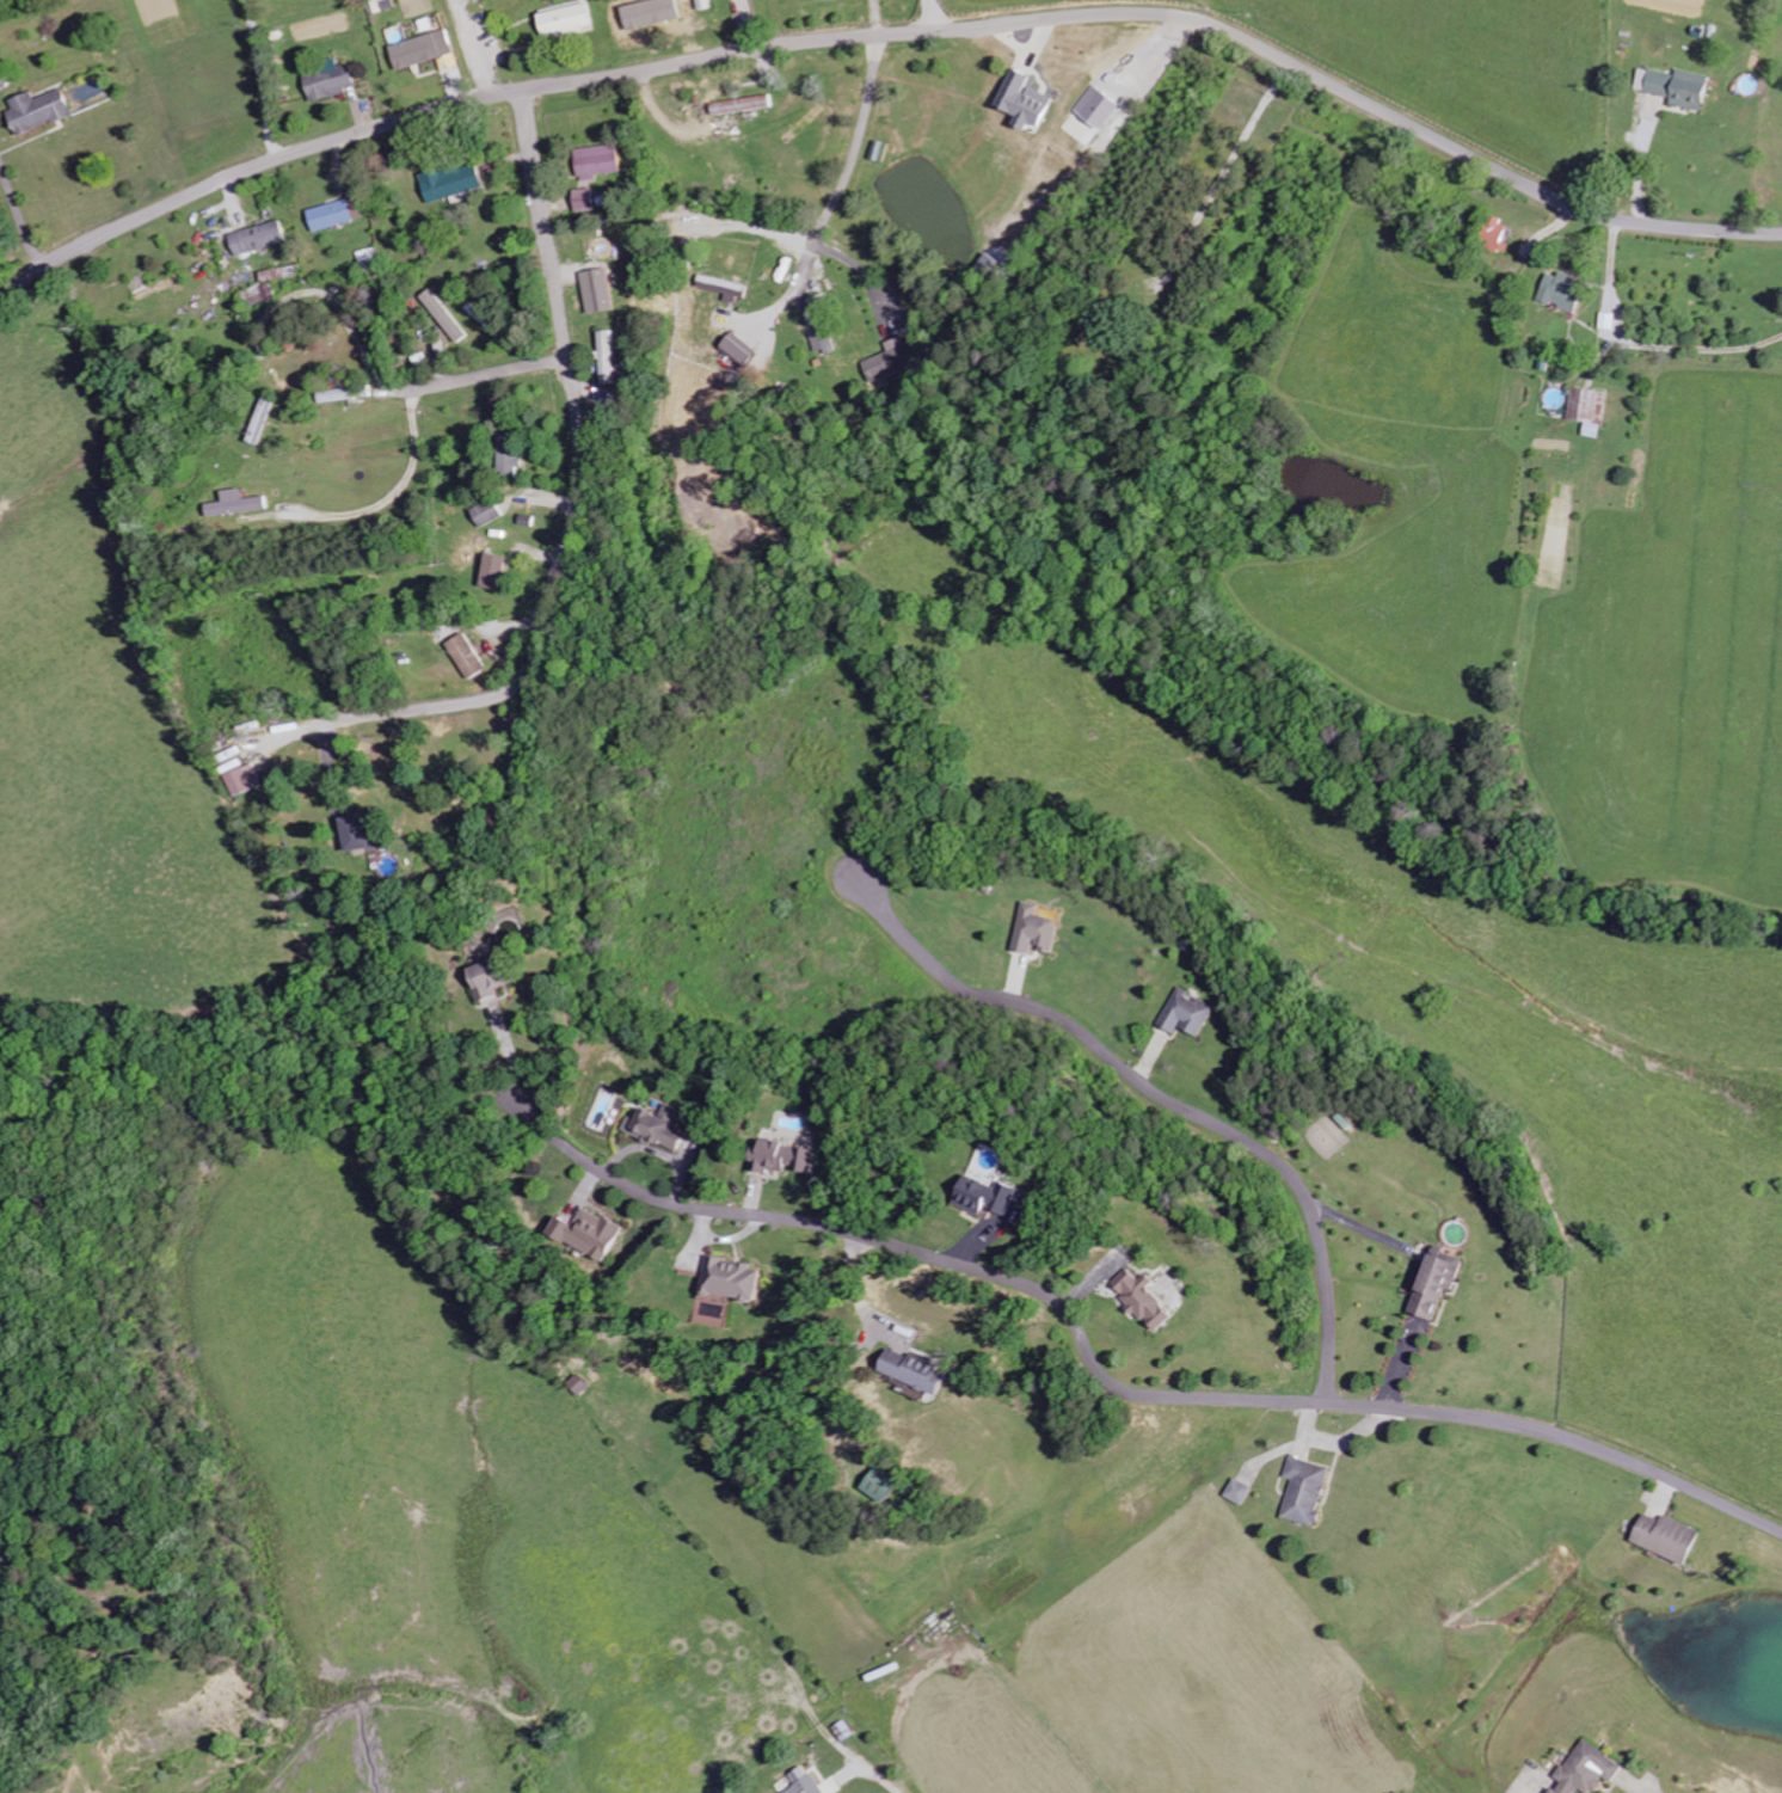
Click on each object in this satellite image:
building: (702, 5)
road: (885, 33)
building: (419, 50)
building: (1, 67)
building: (327, 82)
building: (1678, 87)
building: (1021, 100)
building: (1095, 108)
building: (38, 111)
building: (800, 123)
building: (597, 161)
building: (450, 182)
road: (836, 188)
building: (583, 201)
building: (331, 215)
building: (1495, 235)
building: (256, 238)
road: (861, 275)
building: (725, 288)
building: (600, 290)
building: (1560, 290)
building: (257, 294)
building: (443, 315)
building: (823, 342)
building: (737, 349)
building: (607, 357)
building: (885, 361)
building: (1587, 410)
building: (262, 422)
building: (510, 456)
road: (577, 489)
building: (235, 504)
building: (487, 514)
building: (493, 572)
building: (468, 656)
building: (245, 780)
building: (348, 835)
building: (1034, 931)
building: (484, 981)
building: (1187, 1014)
road: (1168, 1100)
building: (657, 1128)
building: (782, 1159)
building: (972, 1199)
building: (586, 1234)
building: (729, 1281)
building: (1433, 1283)
building: (1131, 1302)
building: (905, 1369)
road: (1122, 1389)
building: (877, 1484)
building: (1304, 1490)
building: (1234, 1491)
building: (1661, 1536)
building: (1584, 1770)
building: (803, 1781)

